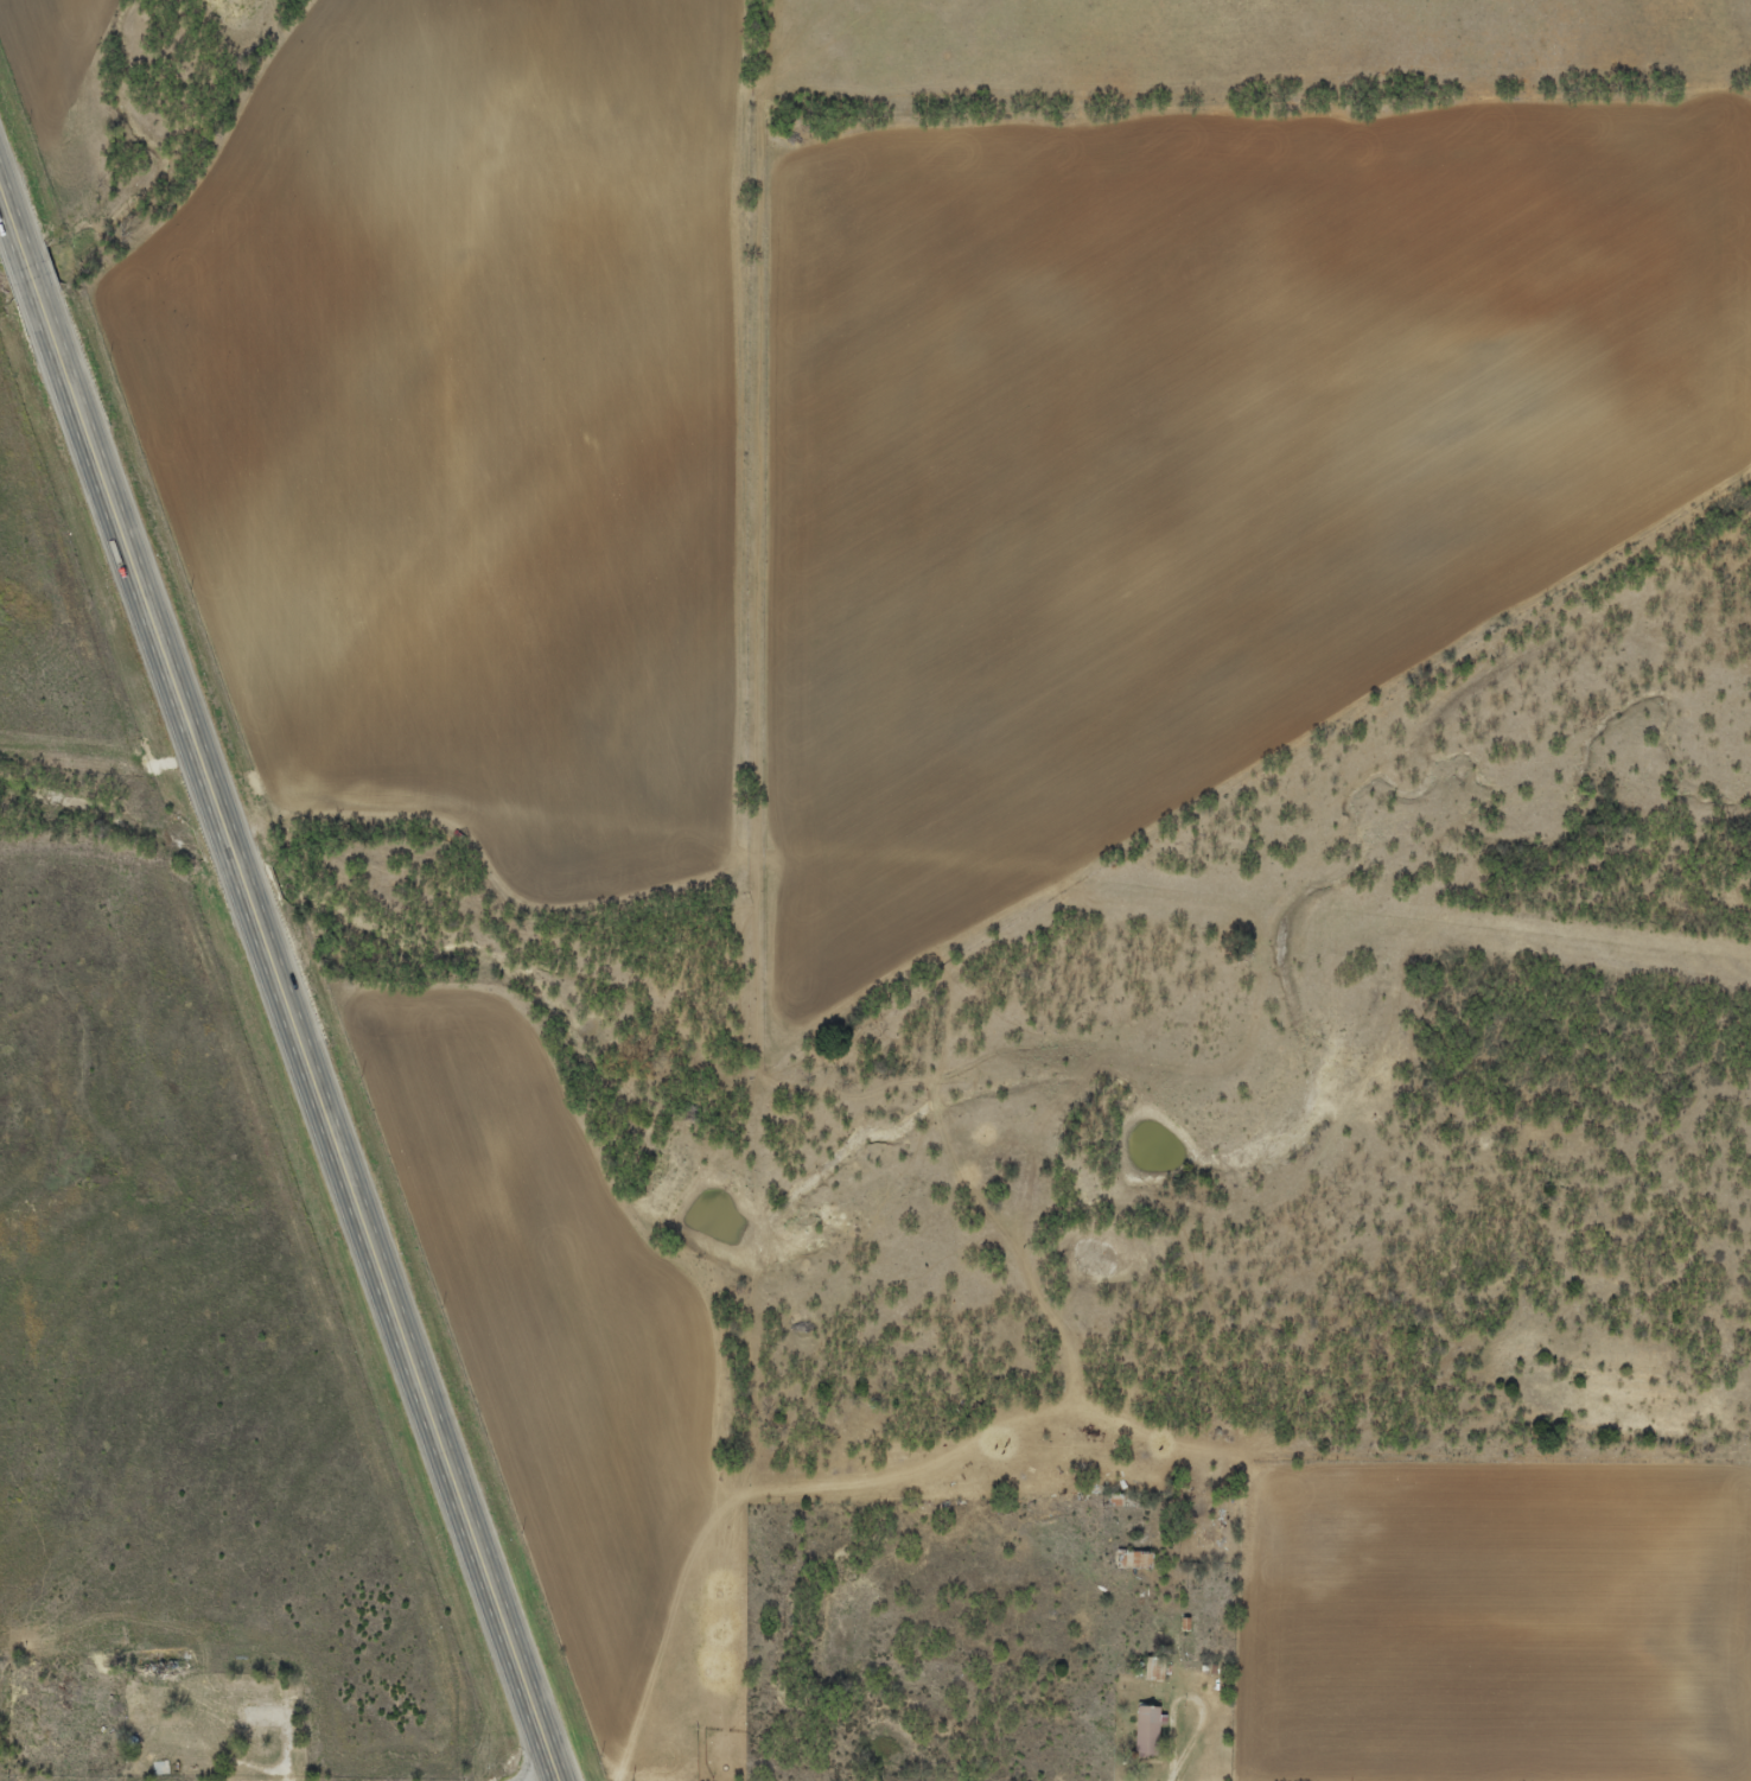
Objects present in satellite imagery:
road: (284, 982)
building: (1205, 1533)
building: (1131, 1558)
building: (1153, 1669)
building: (285, 1705)
building: (139, 1711)
building: (109, 1715)
building: (240, 1720)
building: (1144, 1730)

